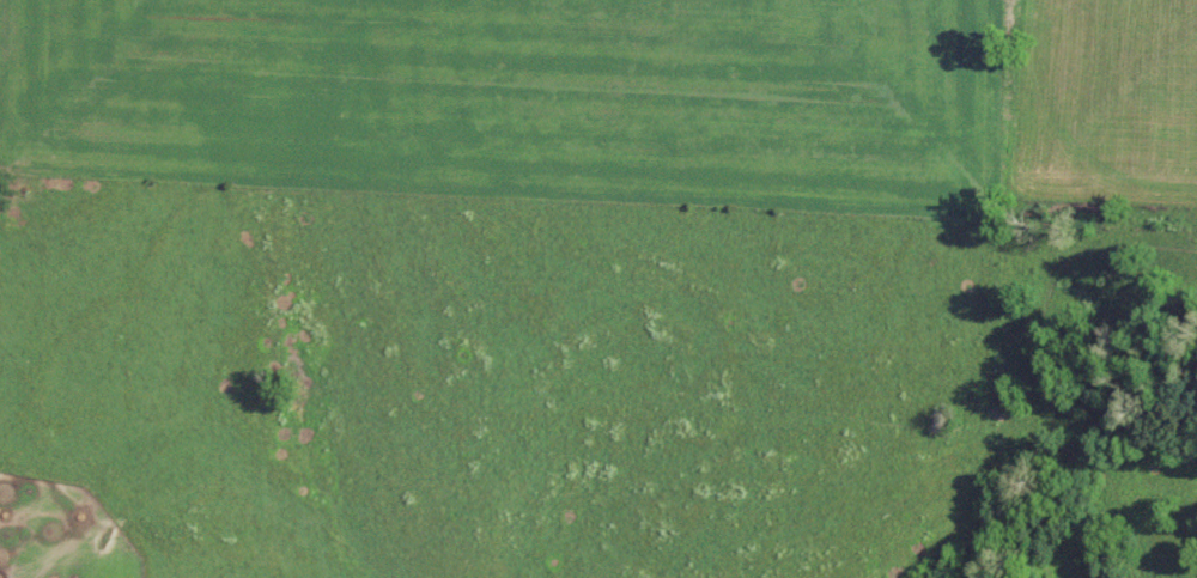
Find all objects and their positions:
airport runway: (1104, 170)

